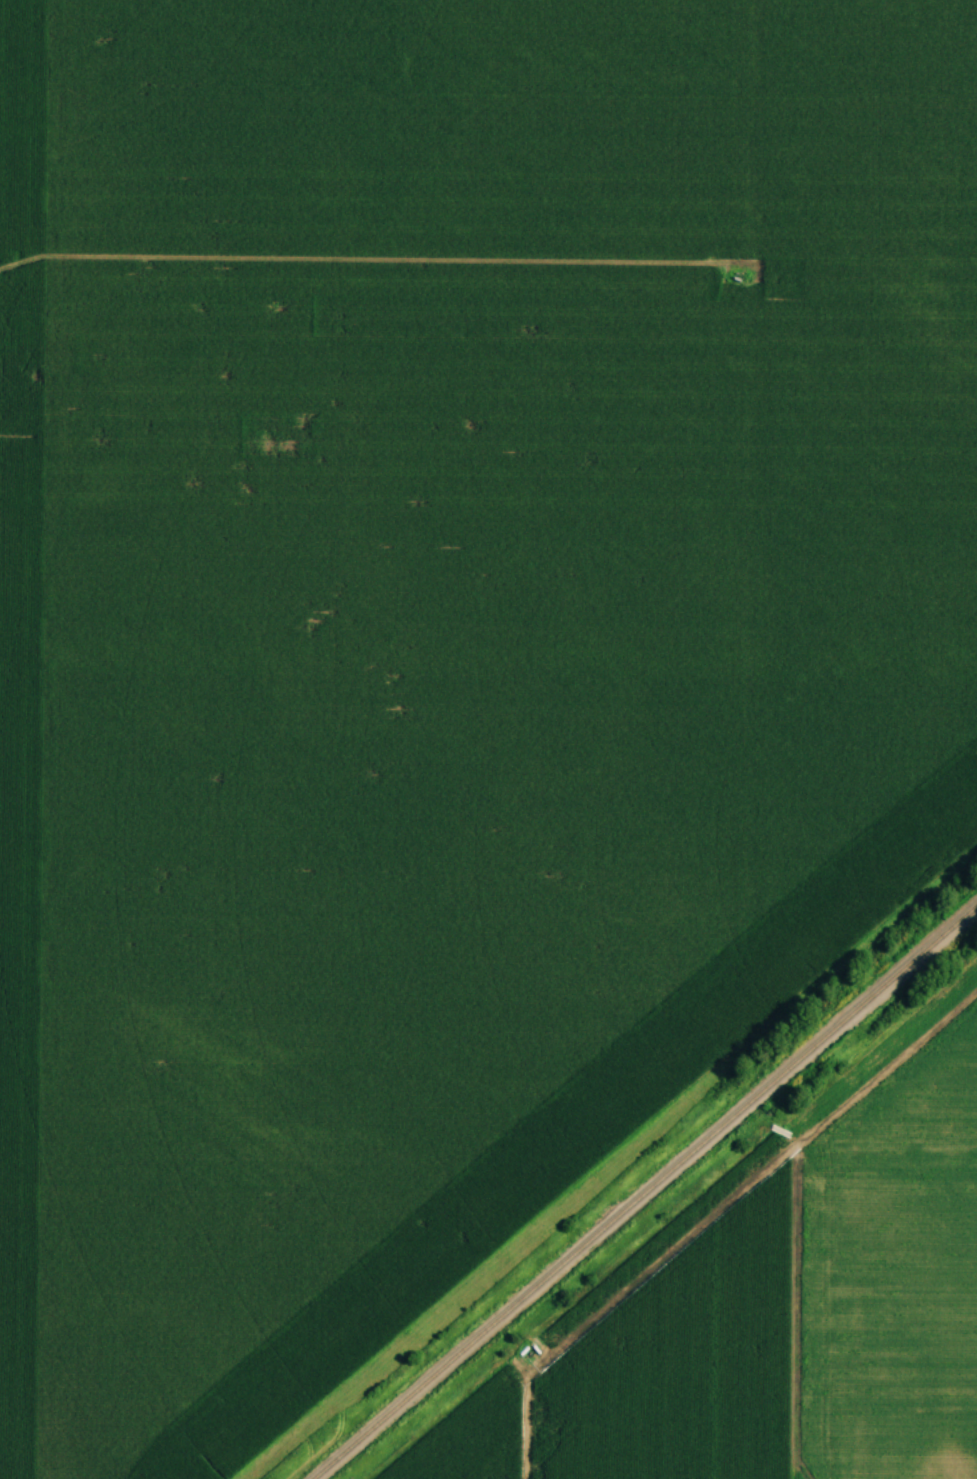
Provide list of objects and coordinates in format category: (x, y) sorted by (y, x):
crop: (442, 639)
railway: (645, 1193)
crop: (892, 1275)
crop: (683, 1364)
crop: (475, 1435)

